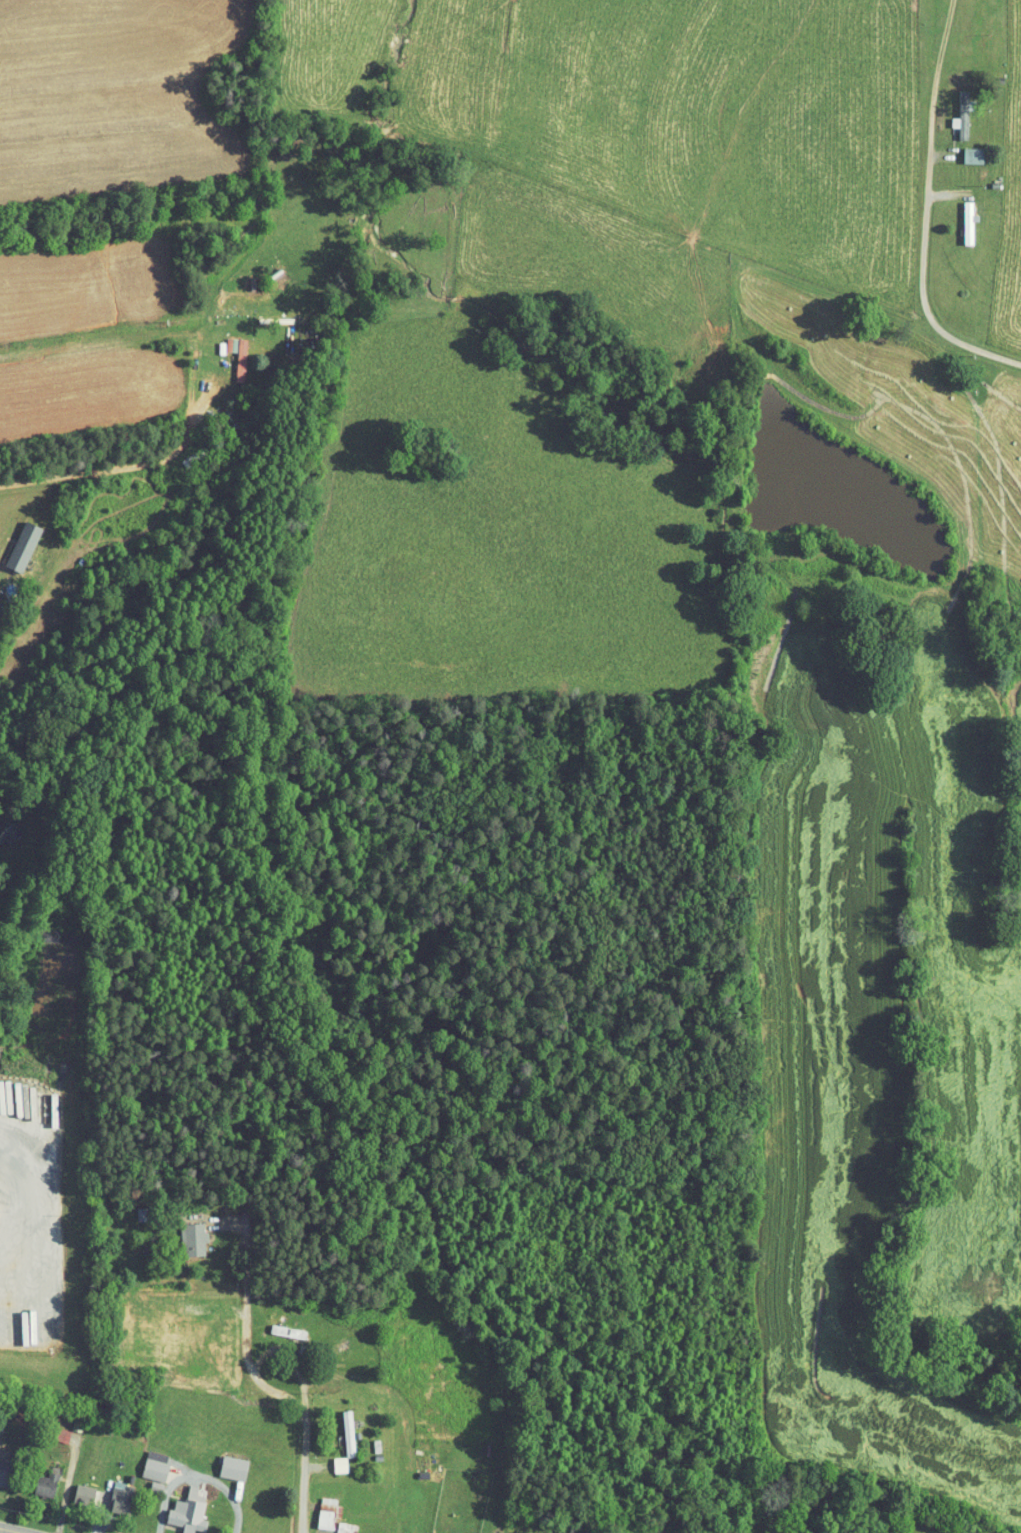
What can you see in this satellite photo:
building: (951, 109)
building: (963, 149)
road: (914, 169)
road: (972, 317)
building: (226, 350)
road: (124, 460)
building: (14, 540)
building: (182, 1233)
building: (278, 1325)
road: (269, 1388)
building: (338, 1426)
building: (330, 1459)
building: (145, 1460)
building: (223, 1462)
building: (36, 1477)
road: (662, 1480)
building: (73, 1488)
building: (110, 1492)
building: (178, 1506)
building: (317, 1507)
building: (335, 1524)
road: (10, 1530)

